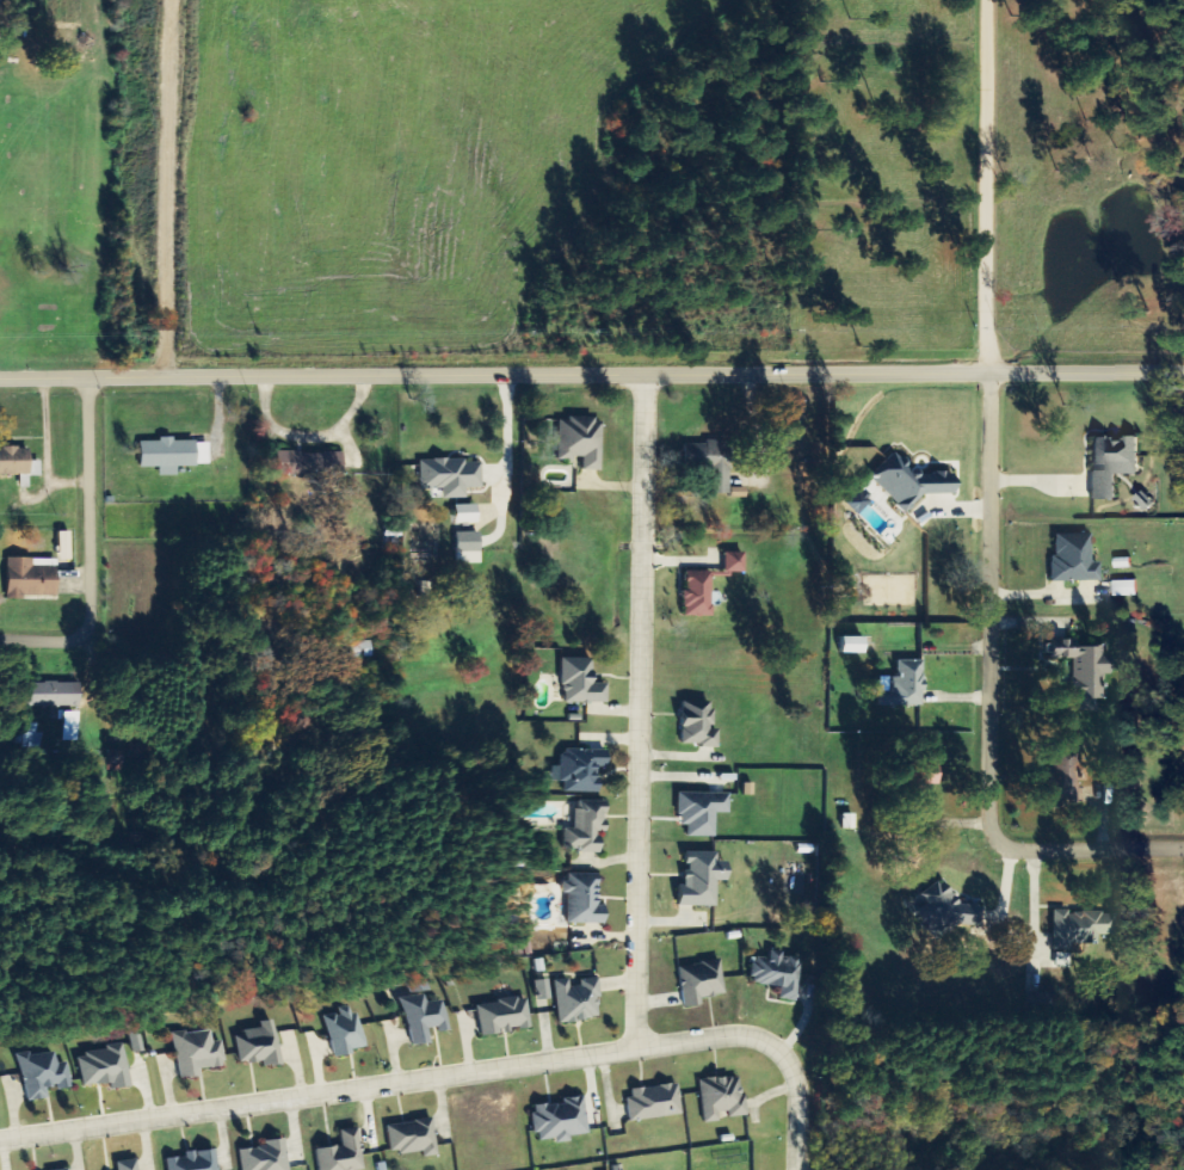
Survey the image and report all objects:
road: (993, 189)
road: (592, 380)
building: (581, 442)
building: (174, 455)
building: (18, 462)
building: (301, 463)
building: (711, 463)
building: (1114, 464)
building: (451, 476)
building: (912, 485)
building: (859, 501)
building: (64, 547)
road: (90, 547)
building: (468, 548)
building: (734, 564)
building: (30, 580)
building: (1126, 590)
building: (698, 595)
building: (852, 646)
building: (1085, 670)
building: (581, 682)
building: (906, 684)
building: (53, 695)
road: (983, 712)
road: (639, 713)
building: (698, 723)
building: (72, 727)
building: (122, 761)
building: (582, 769)
building: (702, 812)
building: (849, 820)
building: (587, 826)
building: (702, 879)
building: (584, 899)
building: (948, 912)
building: (1081, 928)
building: (777, 973)
building: (701, 981)
building: (543, 990)
building: (578, 1000)
building: (504, 1016)
building: (347, 1032)
building: (260, 1045)
building: (198, 1053)
building: (105, 1067)
road: (455, 1071)
building: (44, 1074)
building: (721, 1097)
building: (654, 1102)
building: (561, 1120)
building: (413, 1138)
building: (343, 1153)
building: (266, 1156)
building: (195, 1160)
building: (127, 1165)
building: (64, 1169)

